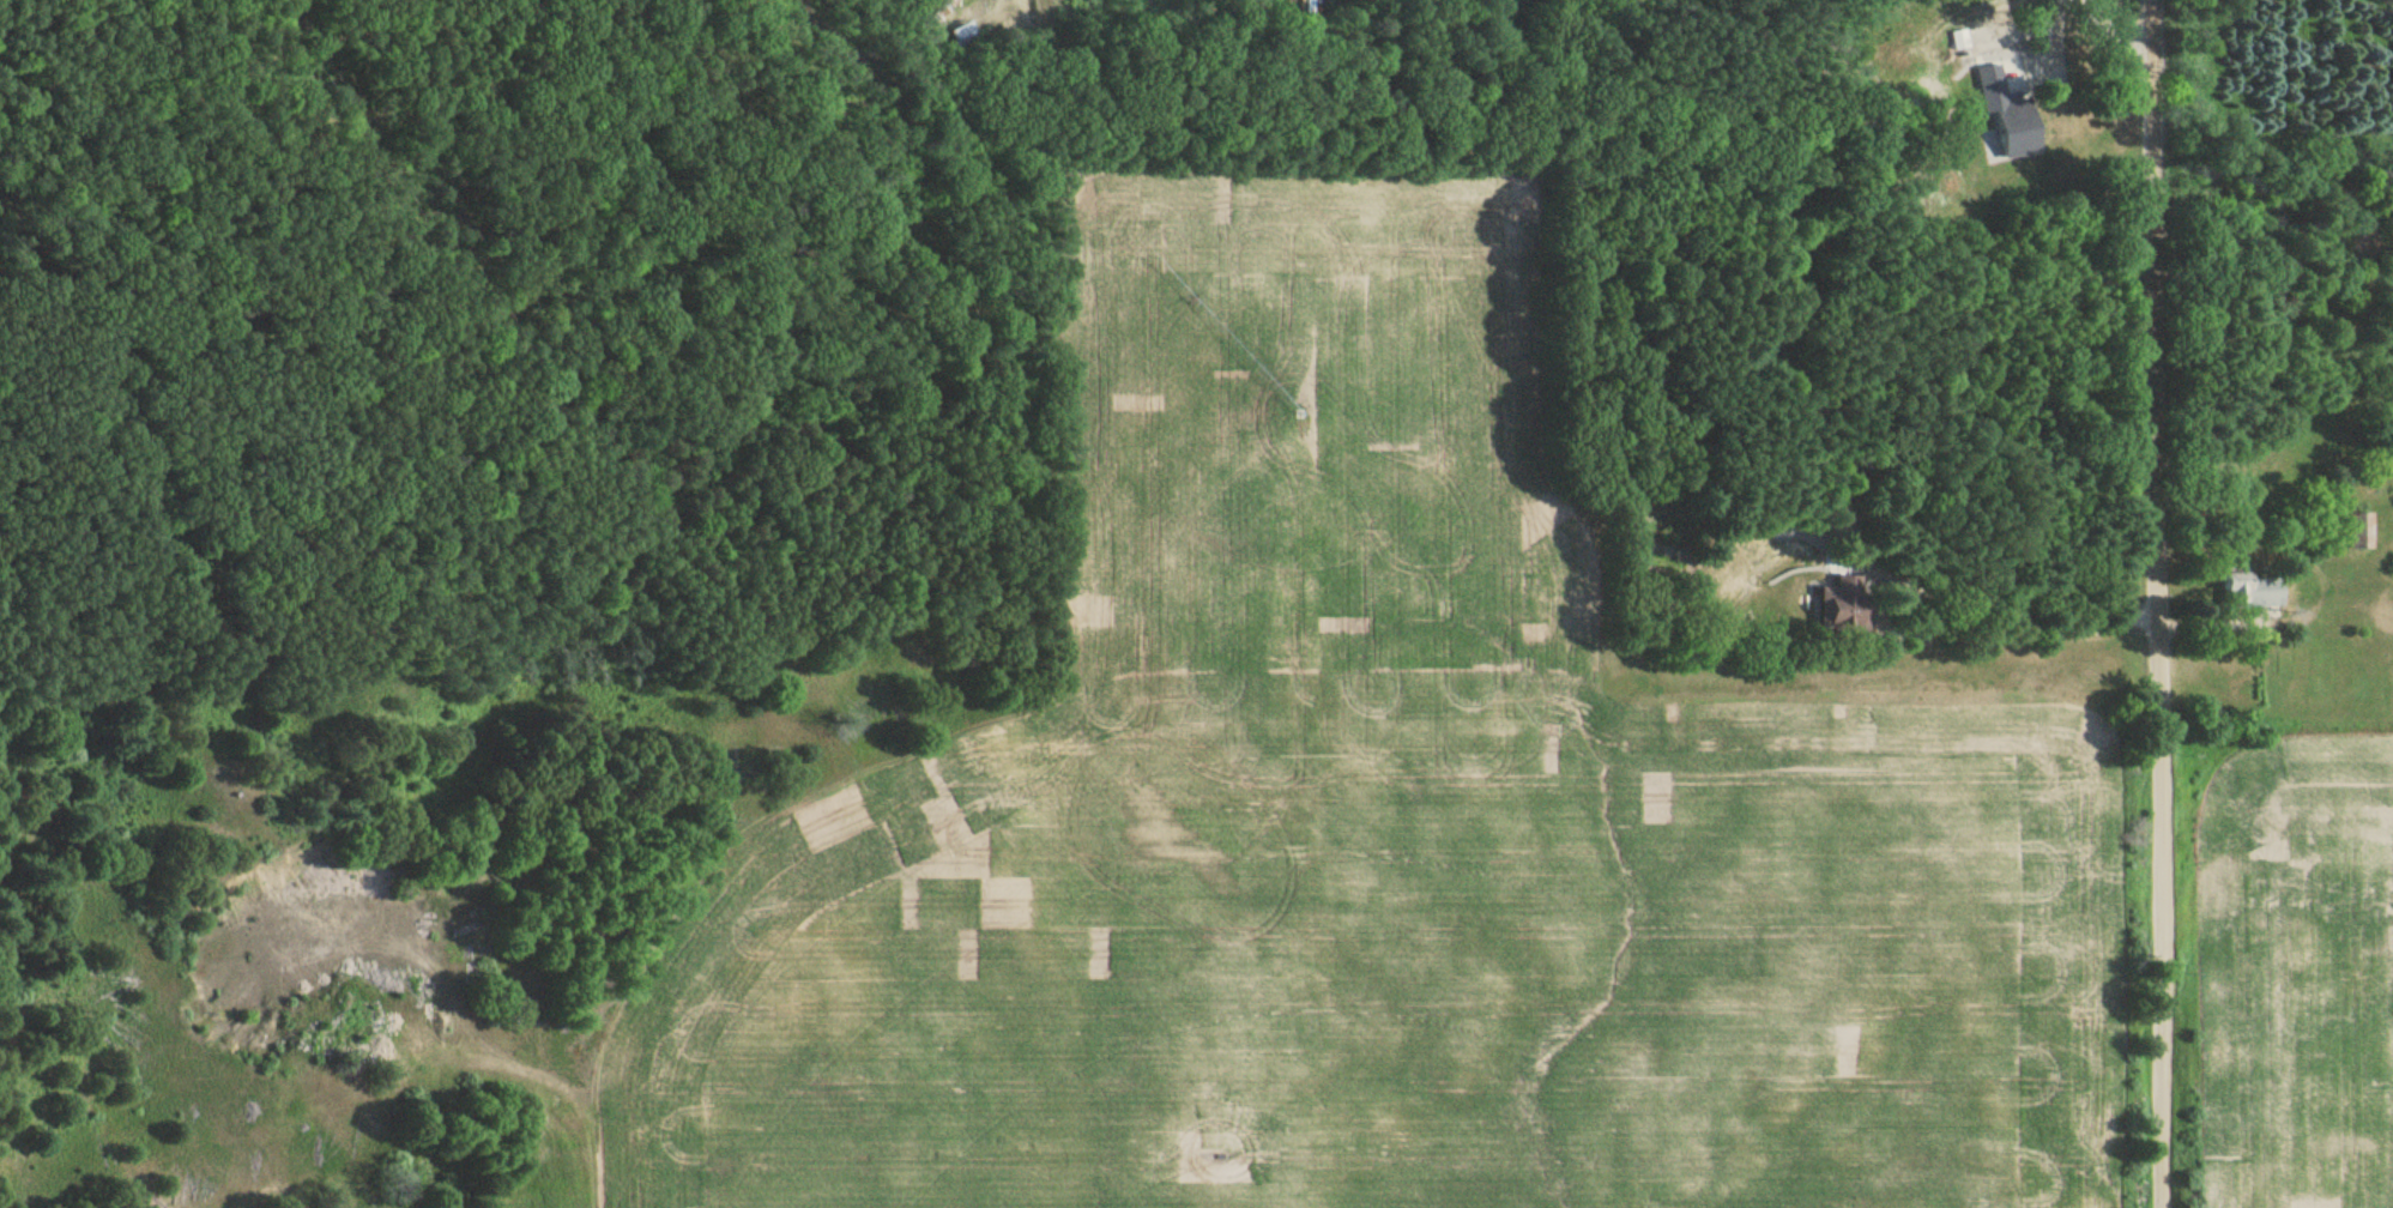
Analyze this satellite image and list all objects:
quarry: (1229, 25)
building: (962, 34)
quarry: (2123, 34)
road: (2116, 35)
road: (1155, 52)
road: (2050, 54)
building: (2008, 113)
building: (2358, 531)
building: (2258, 591)
building: (1842, 604)
road: (2158, 604)
road: (1998, 633)
road: (515, 1103)

